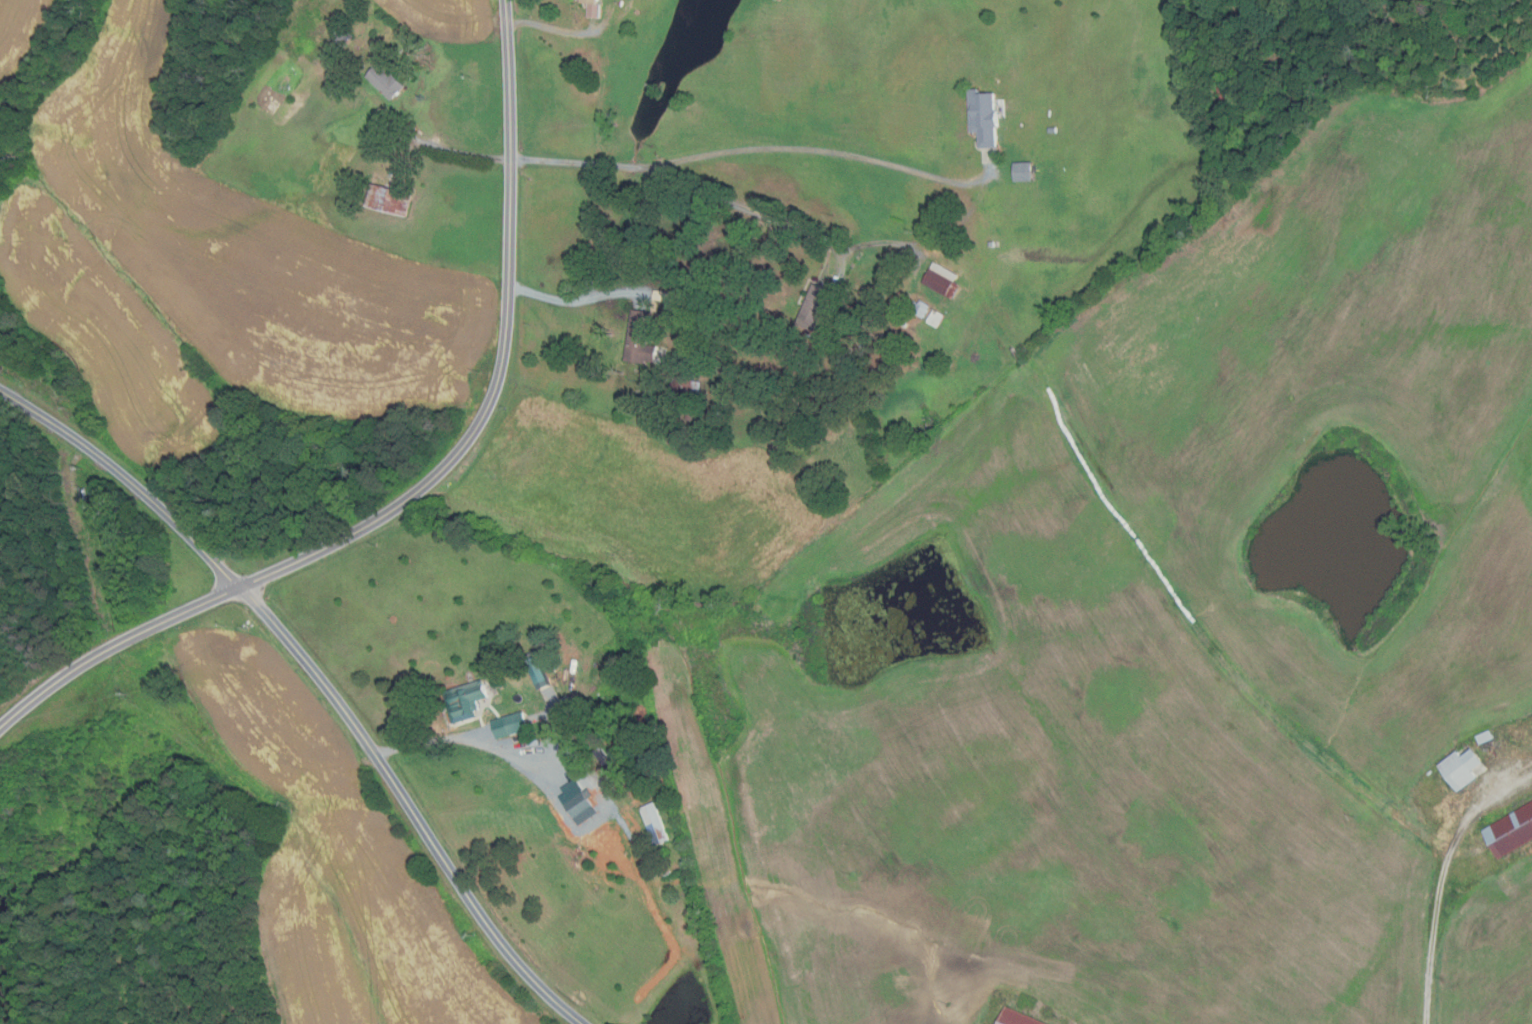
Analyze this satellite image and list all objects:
building: (591, 6)
crop: (444, 20)
road: (553, 26)
crop: (24, 38)
building: (344, 38)
building: (385, 59)
building: (389, 82)
building: (1227, 92)
building: (983, 117)
building: (1052, 130)
road: (454, 150)
road: (816, 151)
road: (572, 162)
building: (1023, 172)
building: (393, 200)
road: (773, 220)
building: (991, 244)
crop: (210, 278)
building: (942, 281)
building: (660, 296)
road: (575, 302)
building: (813, 308)
building: (920, 308)
building: (935, 318)
building: (905, 326)
building: (638, 339)
building: (684, 387)
building: (710, 394)
road: (432, 480)
building: (524, 671)
building: (536, 671)
road: (321, 680)
building: (464, 699)
building: (508, 724)
building: (548, 728)
building: (1484, 736)
road: (495, 749)
building: (1461, 767)
building: (573, 798)
building: (653, 823)
building: (1510, 832)
crop: (333, 860)
road: (1441, 879)
building: (1016, 1018)

